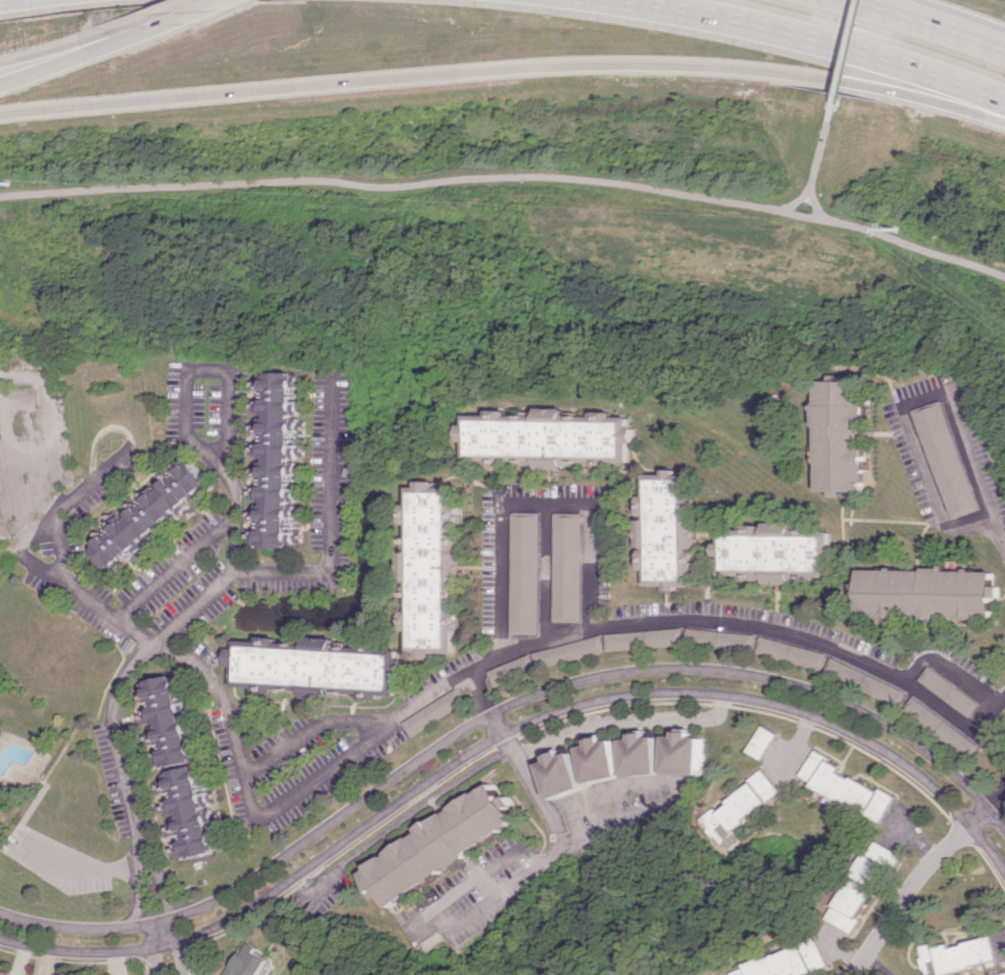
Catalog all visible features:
road: (202, 6)
road: (893, 13)
road: (908, 14)
road: (171, 18)
road: (973, 39)
road: (807, 40)
road: (76, 42)
road: (841, 50)
road: (77, 55)
road: (503, 68)
road: (816, 164)
road: (508, 179)
road: (817, 207)
road: (19, 368)
road: (222, 371)
road: (913, 396)
building: (842, 436)
building: (552, 438)
building: (282, 459)
building: (948, 459)
road: (534, 501)
road: (66, 504)
building: (155, 516)
road: (334, 531)
building: (667, 532)
road: (1003, 540)
road: (198, 548)
road: (8, 553)
building: (773, 553)
building: (568, 566)
road: (546, 569)
building: (526, 573)
building: (927, 594)
road: (85, 597)
road: (195, 605)
building: (644, 639)
building: (720, 639)
road: (519, 646)
building: (792, 652)
road: (949, 668)
building: (319, 669)
building: (866, 682)
road: (567, 686)
building: (950, 691)
road: (486, 702)
road: (573, 708)
building: (436, 712)
road: (992, 716)
road: (626, 720)
building: (170, 722)
building: (941, 728)
road: (311, 731)
road: (116, 737)
road: (800, 740)
building: (764, 742)
building: (690, 754)
building: (648, 755)
building: (606, 760)
building: (567, 774)
building: (846, 786)
road: (997, 799)
building: (744, 809)
building: (191, 814)
road: (908, 831)
building: (447, 844)
road: (551, 851)
road: (89, 870)
road: (160, 880)
road: (138, 885)
road: (911, 885)
building: (862, 886)
road: (72, 928)
road: (175, 930)
road: (152, 949)
road: (842, 949)
road: (88, 953)
building: (963, 955)
building: (251, 961)
building: (789, 962)
road: (877, 965)
building: (6, 972)
building: (1003, 974)

